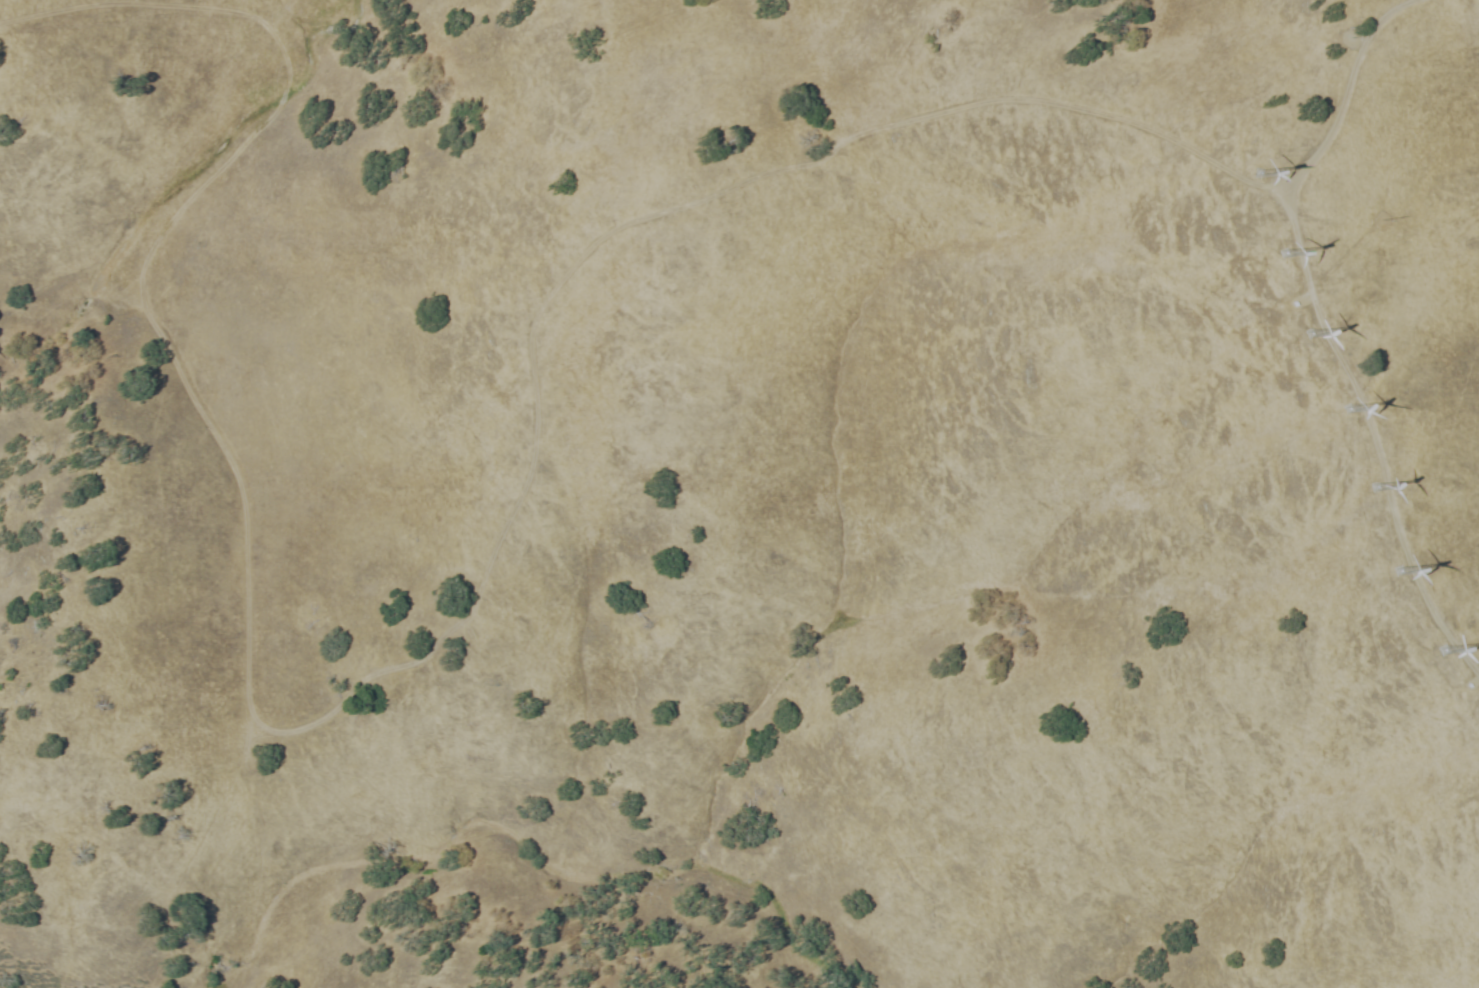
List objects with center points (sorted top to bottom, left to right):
road: (1344, 91)
wind turbine: (1265, 167)
road: (1342, 256)
wind turbine: (1284, 258)
wind turbine: (1316, 326)
wind turbine: (1350, 412)
road: (1374, 436)
wind turbine: (1370, 492)
wind turbine: (1382, 574)
wind turbine: (1436, 652)
road: (403, 665)

